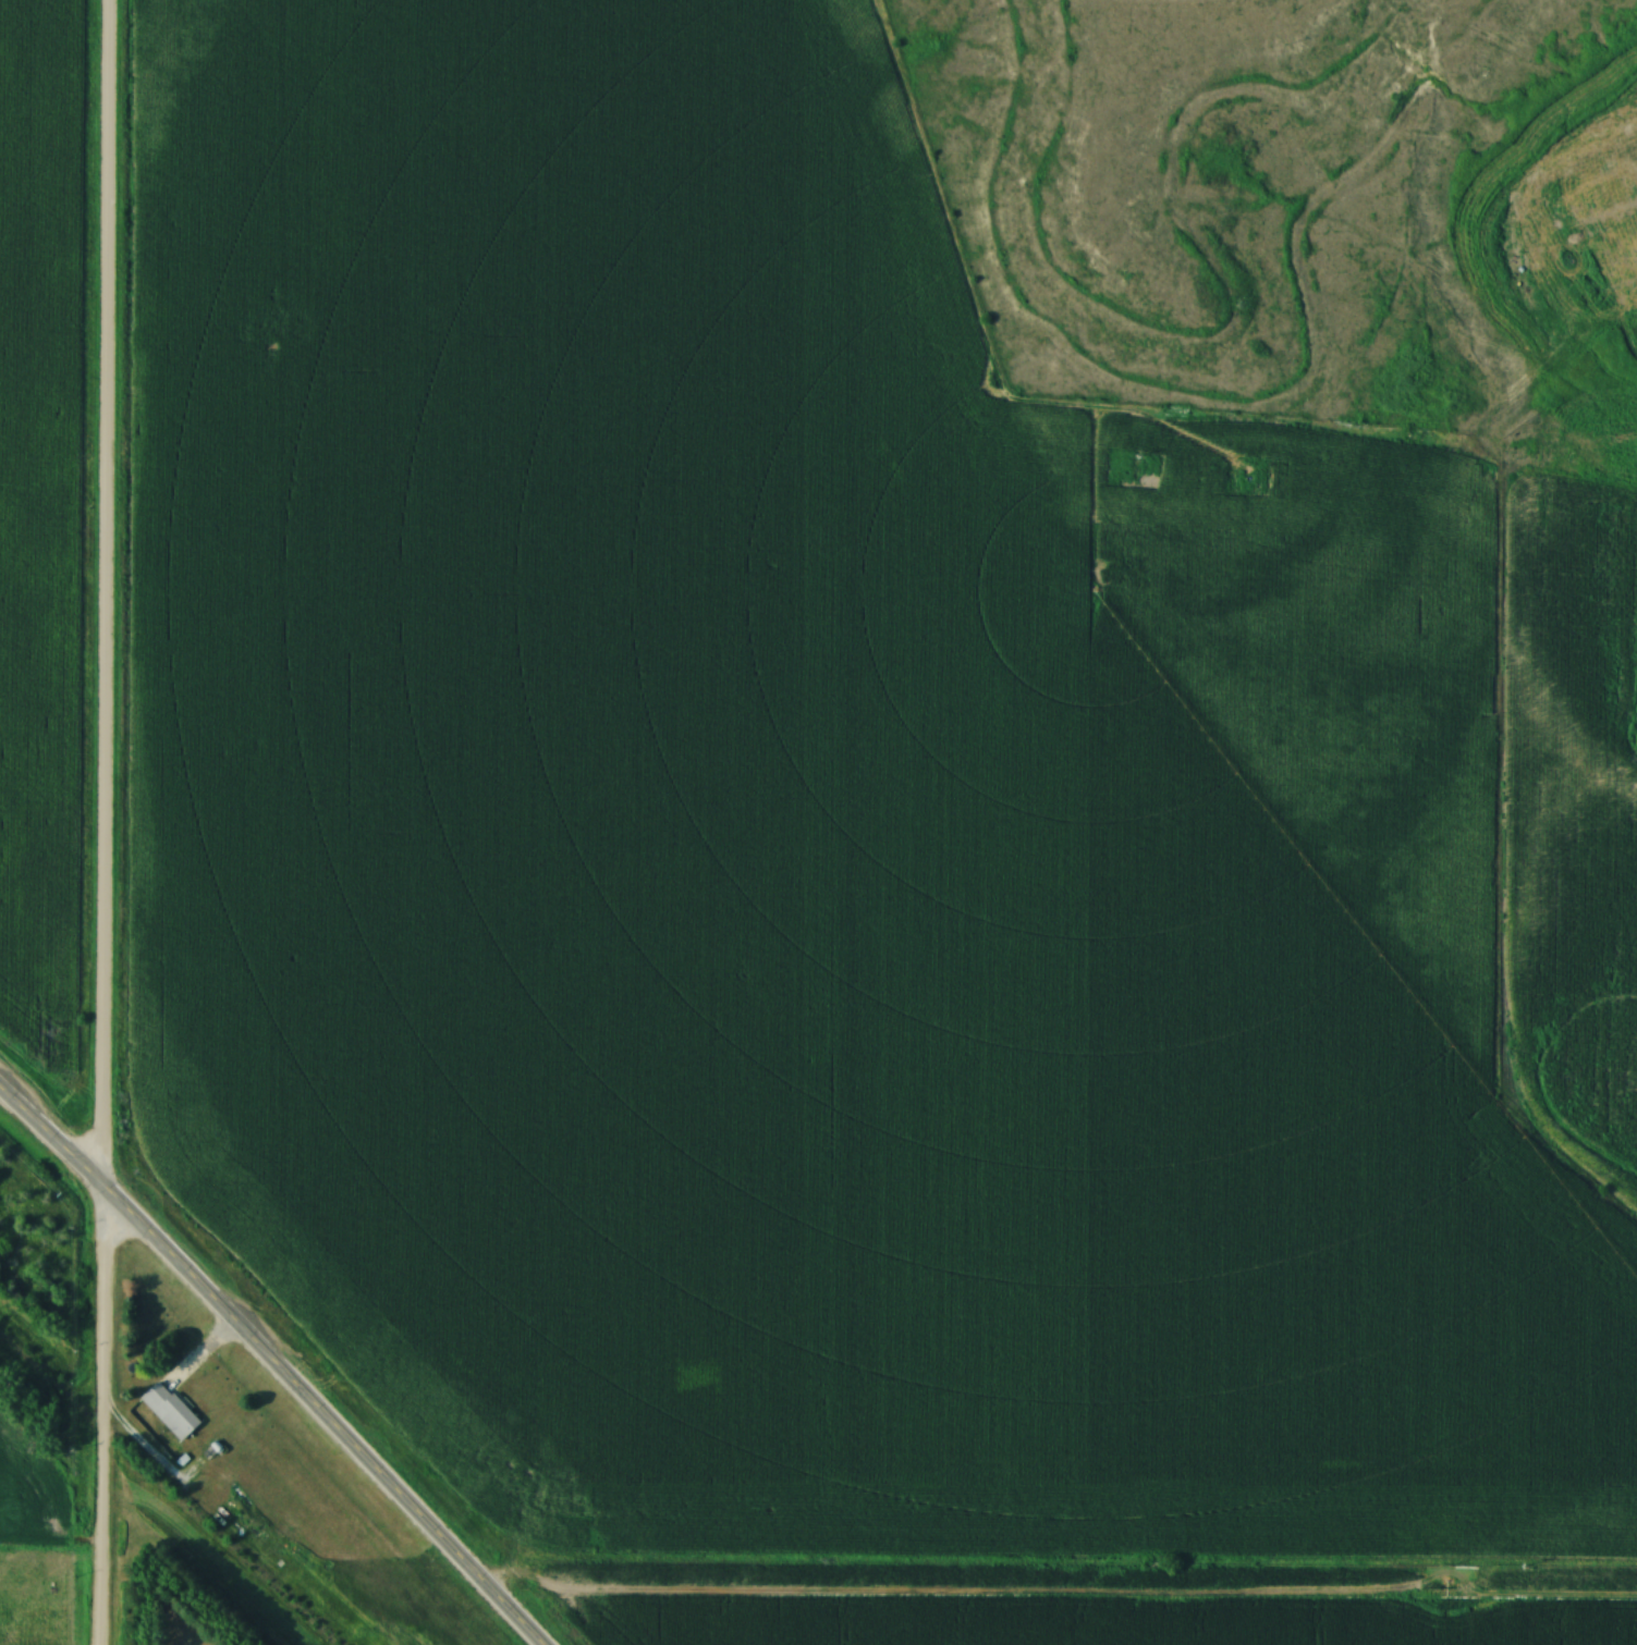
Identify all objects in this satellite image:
road: (101, 599)
road: (51, 1150)
building: (171, 1410)
road: (318, 1420)
road: (102, 1422)
railway: (166, 1485)

